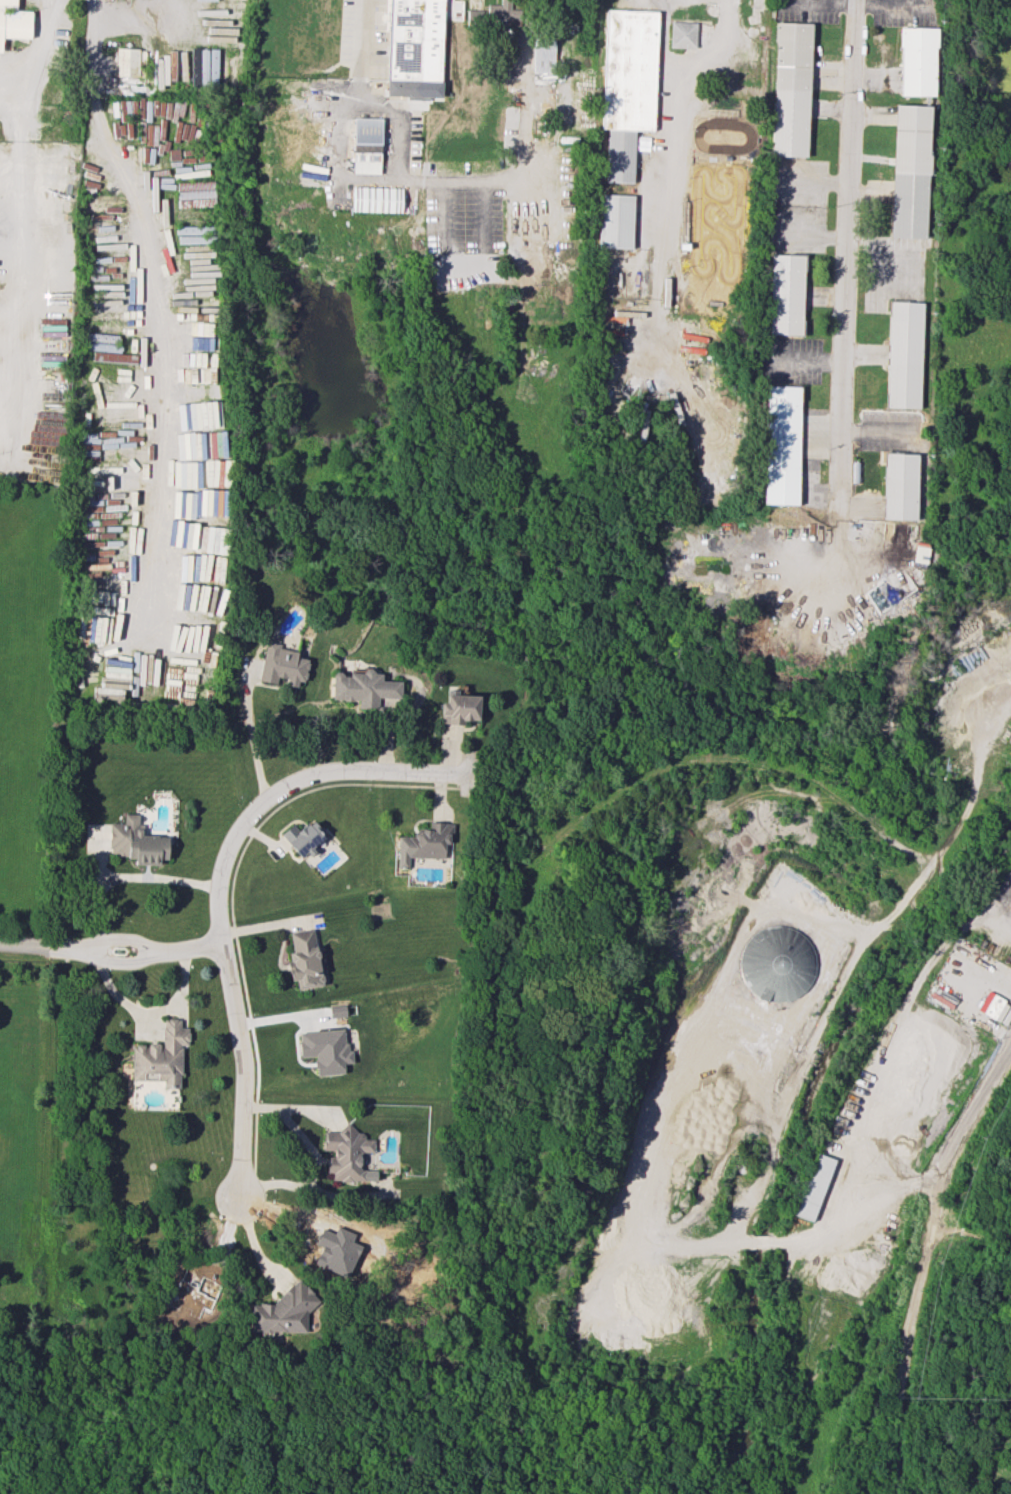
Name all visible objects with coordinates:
building: (495, 14)
building: (13, 21)
building: (682, 34)
road: (369, 38)
road: (387, 39)
road: (667, 39)
building: (412, 44)
road: (37, 48)
road: (712, 48)
building: (543, 56)
building: (917, 61)
building: (127, 62)
building: (627, 86)
building: (791, 89)
building: (366, 145)
road: (670, 154)
building: (910, 171)
road: (489, 180)
road: (15, 196)
building: (376, 199)
building: (615, 221)
road: (844, 261)
building: (786, 294)
road: (154, 299)
road: (5, 321)
road: (5, 346)
building: (904, 354)
building: (781, 445)
building: (899, 486)
building: (281, 665)
building: (364, 688)
building: (458, 706)
road: (252, 743)
building: (302, 837)
building: (136, 842)
building: (424, 843)
road: (127, 876)
road: (218, 893)
road: (110, 946)
building: (304, 960)
building: (776, 961)
building: (995, 1006)
building: (337, 1010)
building: (325, 1050)
building: (161, 1056)
road: (298, 1130)
building: (347, 1156)
road: (926, 1186)
building: (813, 1187)
road: (313, 1191)
road: (930, 1213)
road: (848, 1220)
road: (763, 1242)
road: (694, 1244)
building: (284, 1311)
park: (401, 1436)
road: (896, 1446)

